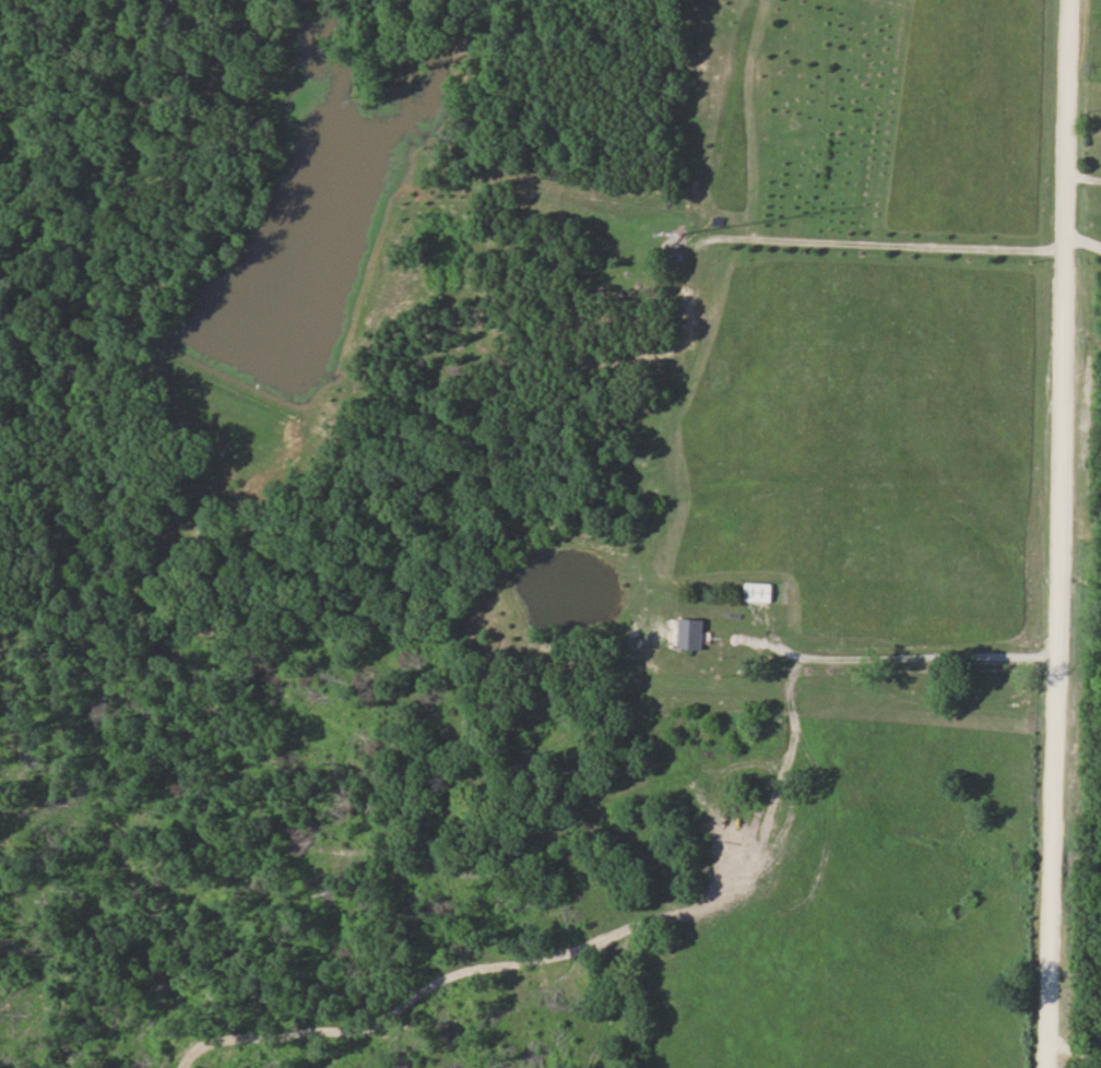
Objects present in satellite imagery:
road: (1081, 237)
building: (675, 249)
road: (1056, 533)
building: (760, 593)
building: (691, 634)
road: (921, 655)

